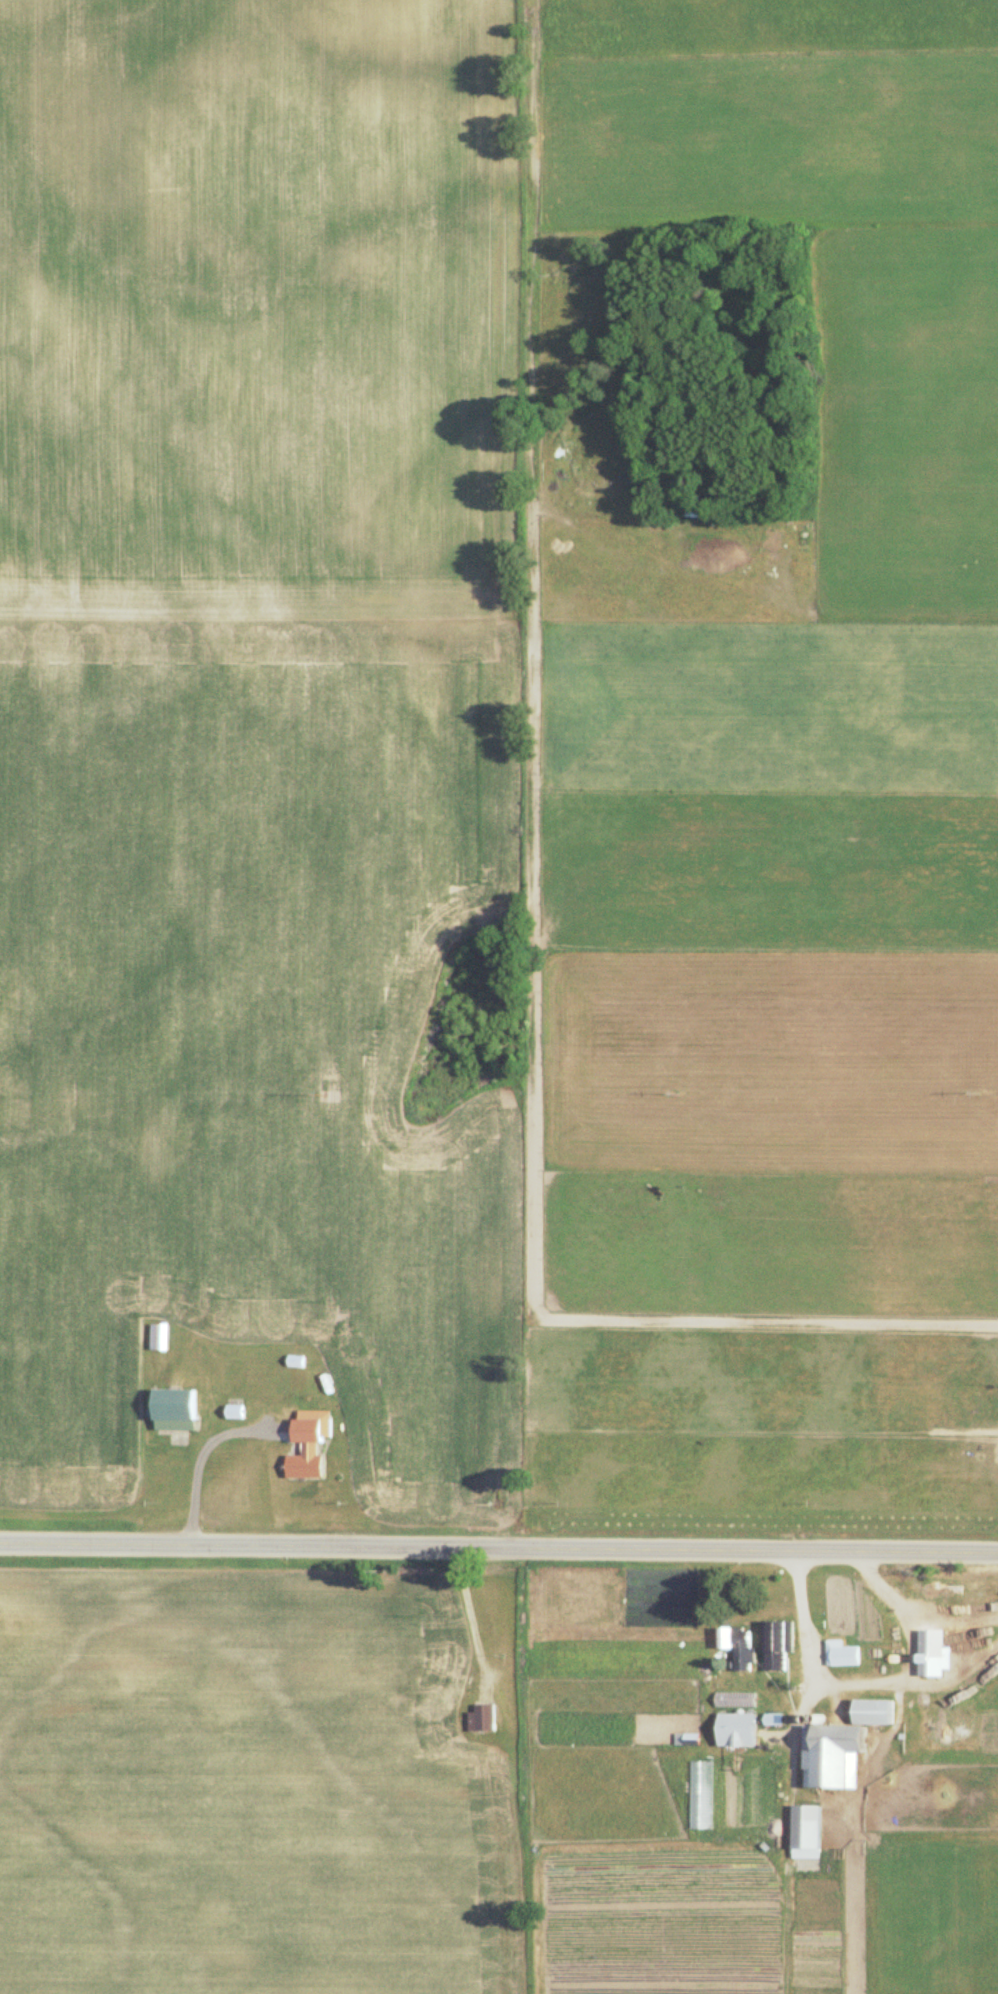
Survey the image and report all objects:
crop: (252, 726)
building: (155, 1337)
building: (169, 1410)
building: (305, 1444)
road: (195, 1456)
road: (499, 1541)
road: (903, 1608)
road: (474, 1614)
building: (771, 1637)
building: (733, 1644)
road: (814, 1665)
road: (913, 1681)
building: (442, 1698)
building: (732, 1701)
building: (479, 1718)
building: (733, 1721)
building: (837, 1744)
building: (801, 1826)

